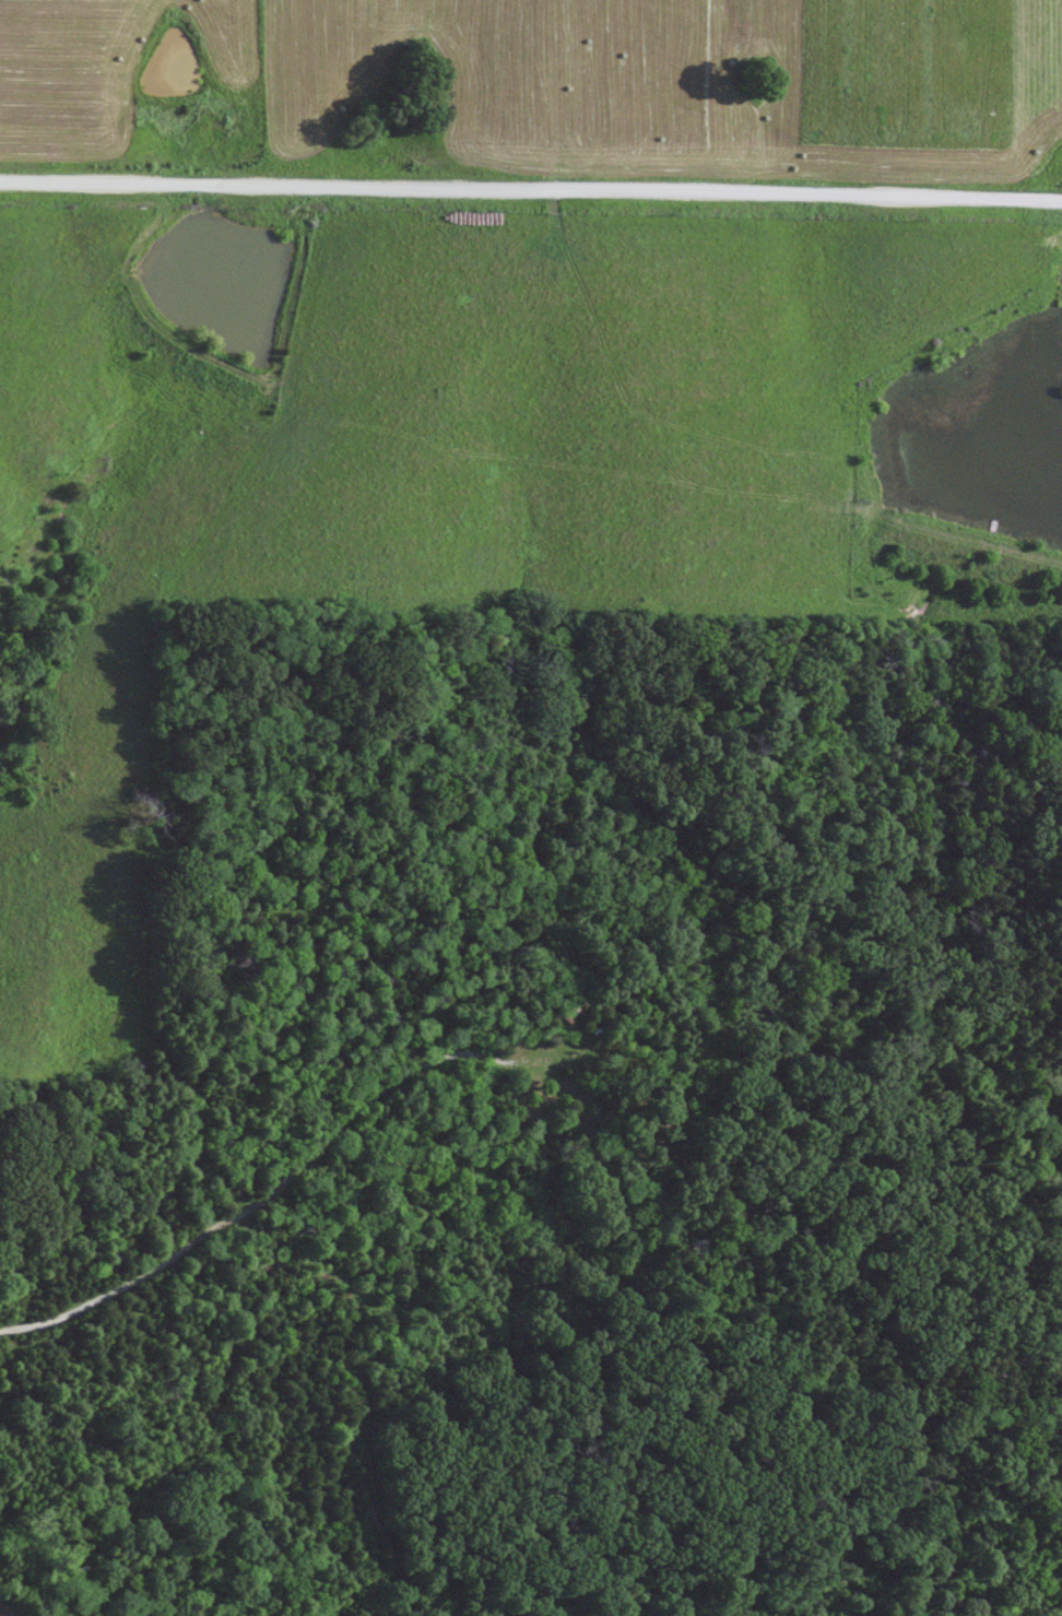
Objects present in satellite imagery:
road: (531, 189)

